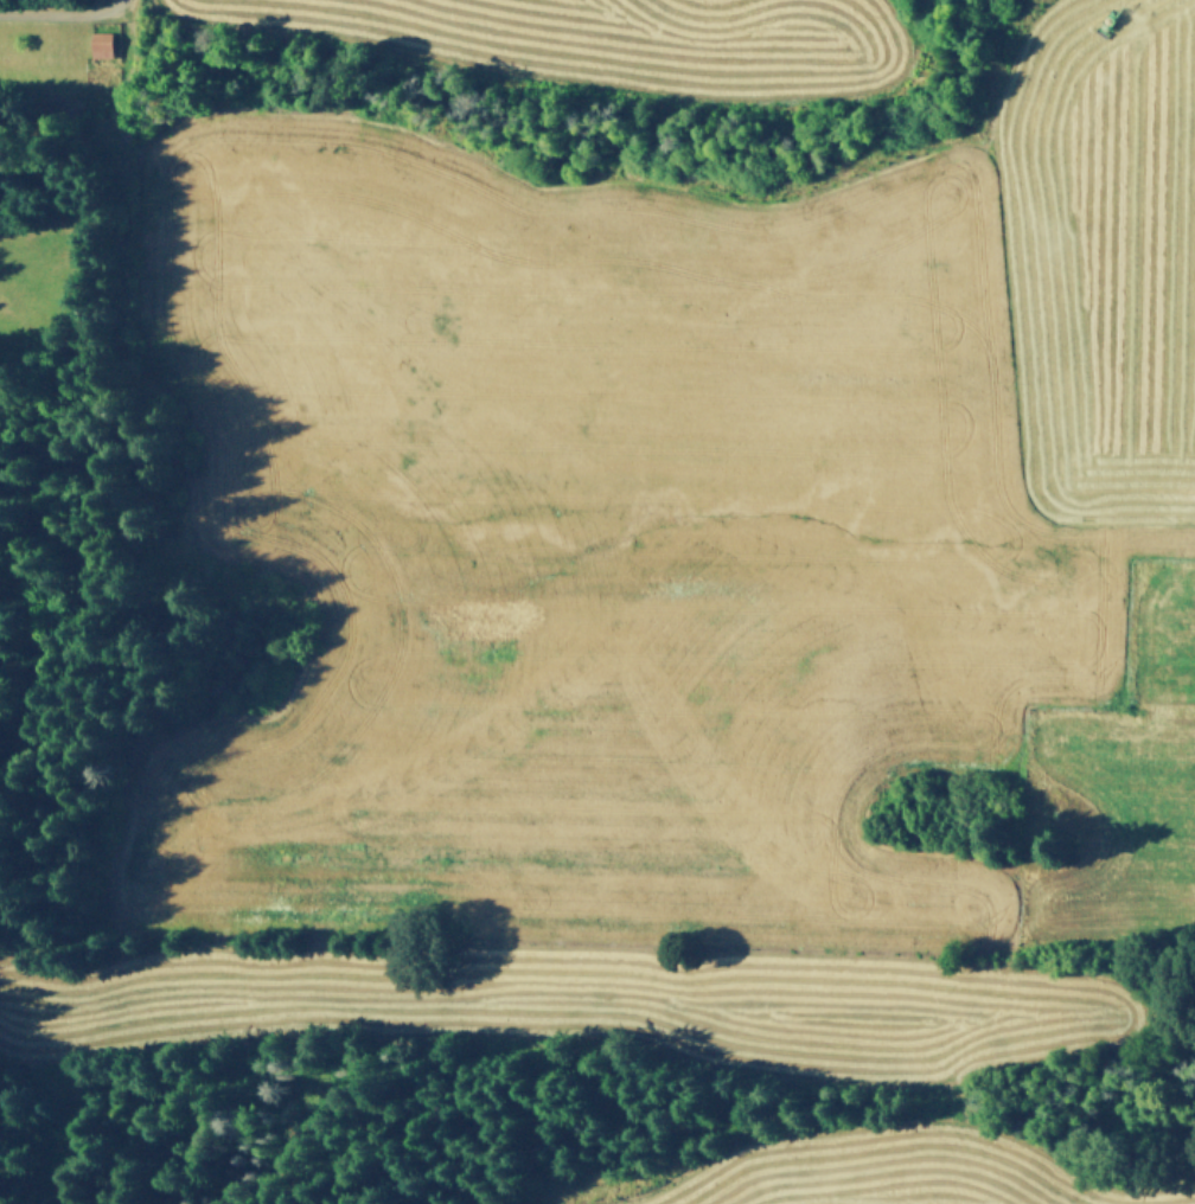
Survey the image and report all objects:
road: (60, 12)
crop: (609, 38)
building: (97, 40)
crop: (1093, 262)
crop: (583, 616)
crop: (1167, 640)
crop: (1119, 825)
crop: (875, 1167)
crop: (1184, 1197)

